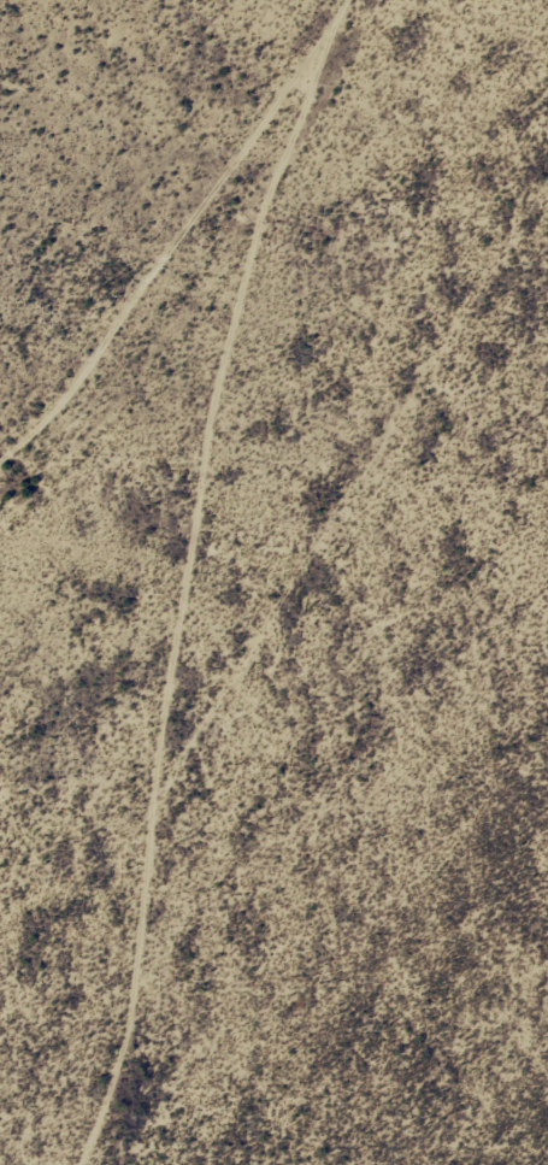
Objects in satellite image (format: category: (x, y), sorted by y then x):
road: (208, 253)
road: (219, 677)

